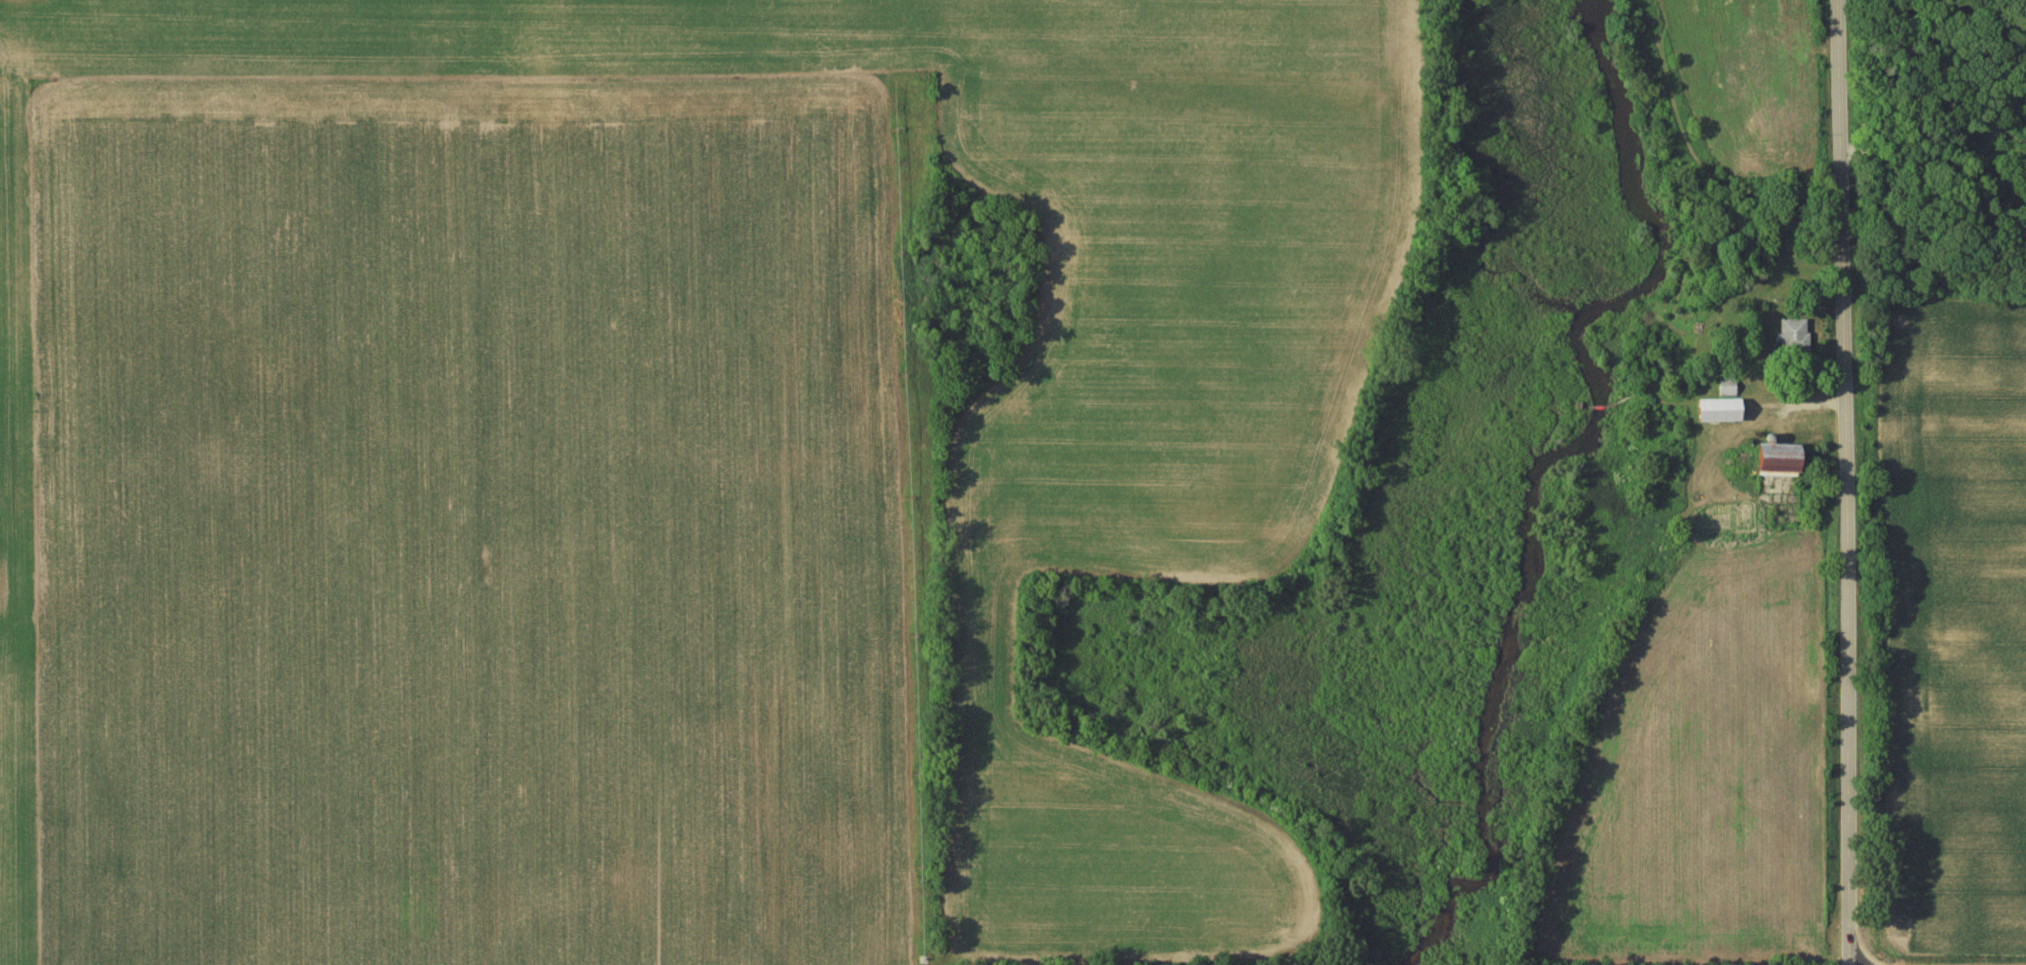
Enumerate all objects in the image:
building: (1794, 337)
building: (1729, 388)
building: (1723, 410)
building: (1784, 460)
road: (1846, 482)

